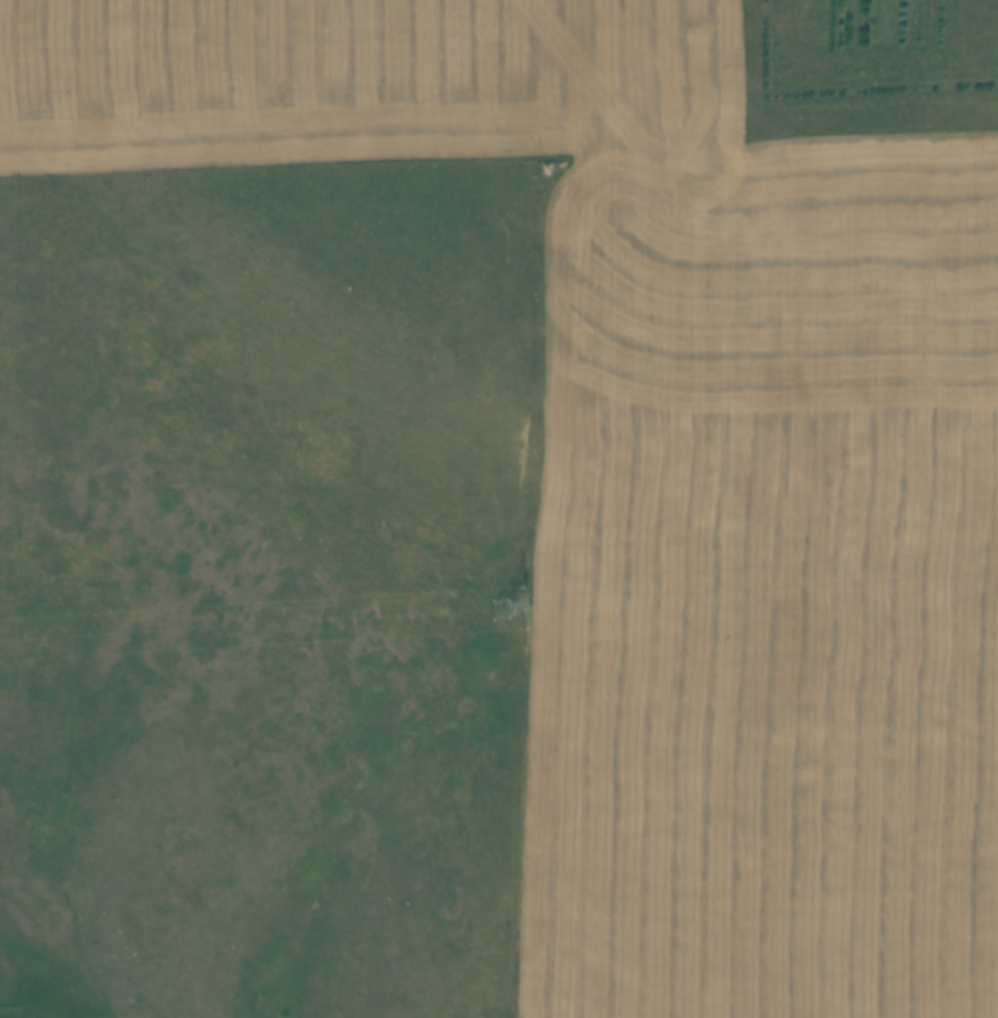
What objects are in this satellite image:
power tower: (501, 615)

